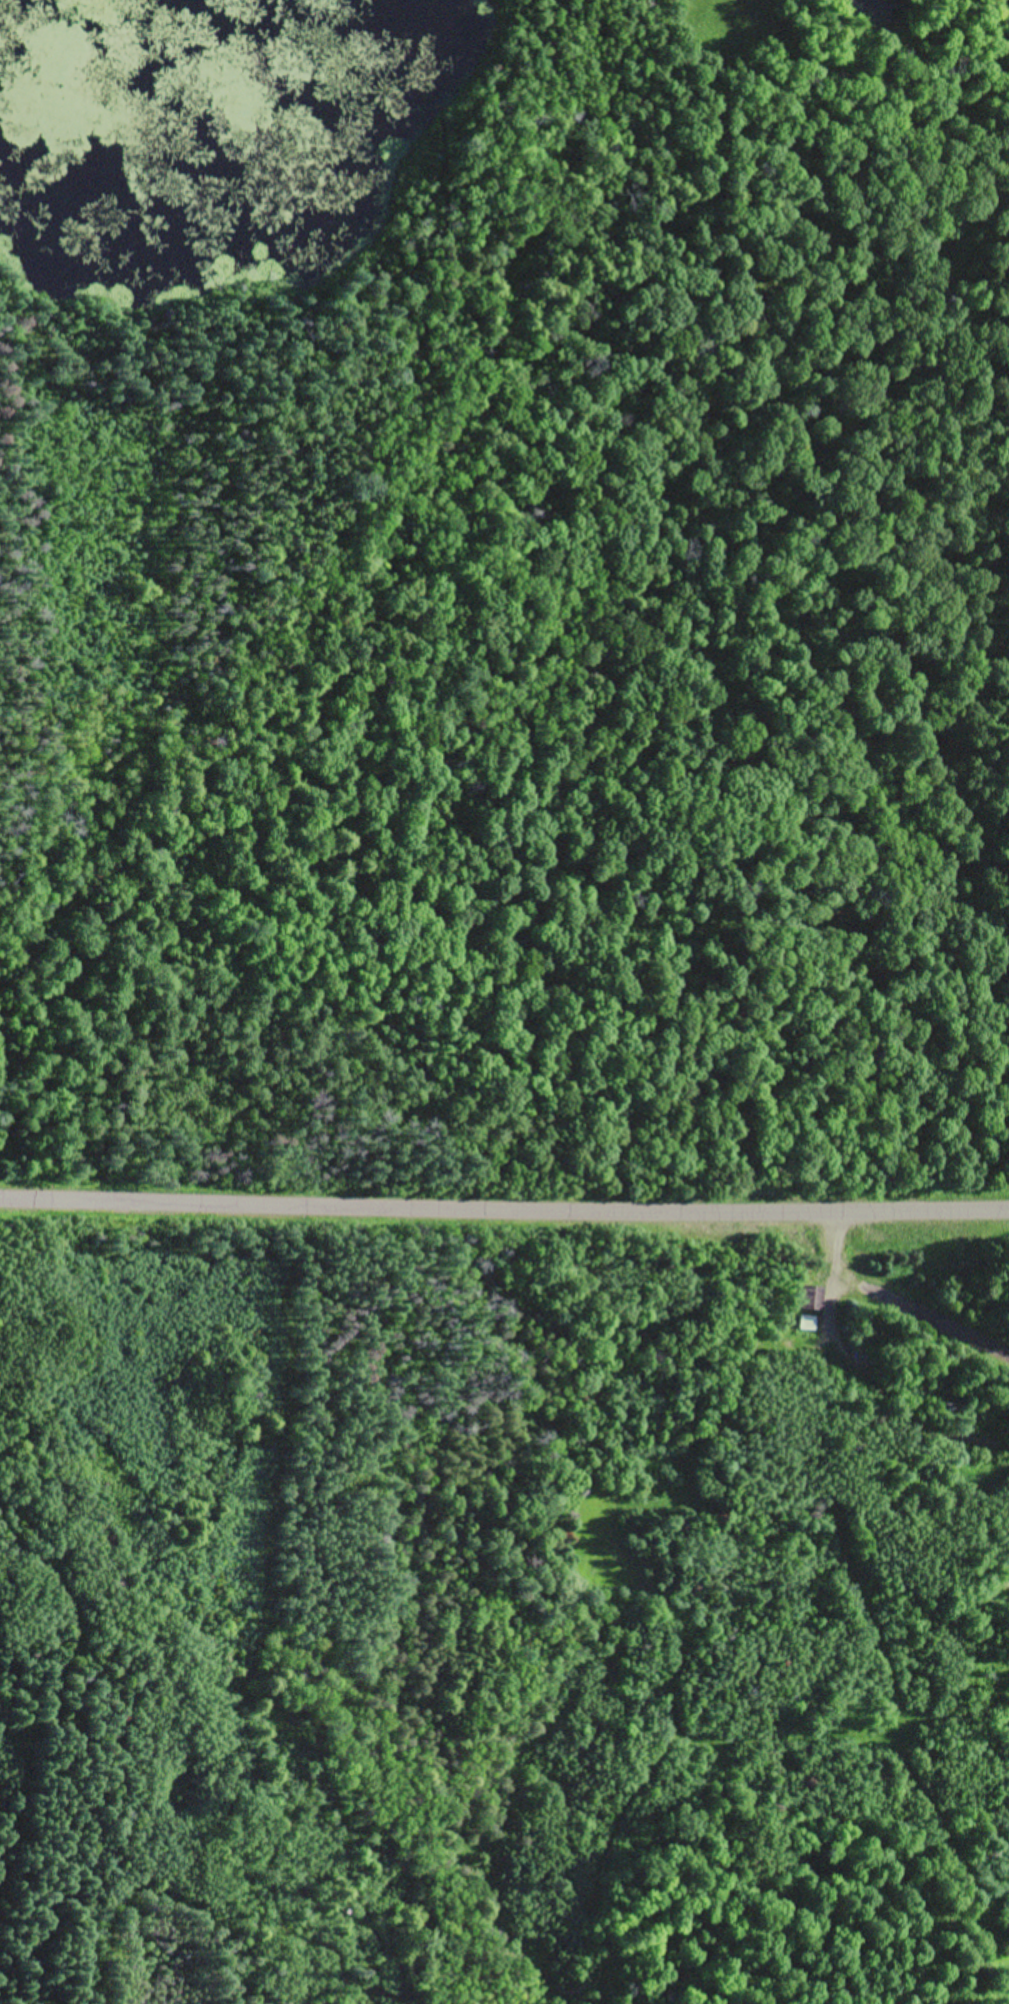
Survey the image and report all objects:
road: (504, 1215)
building: (809, 1300)
road: (887, 1313)
building: (805, 1326)

